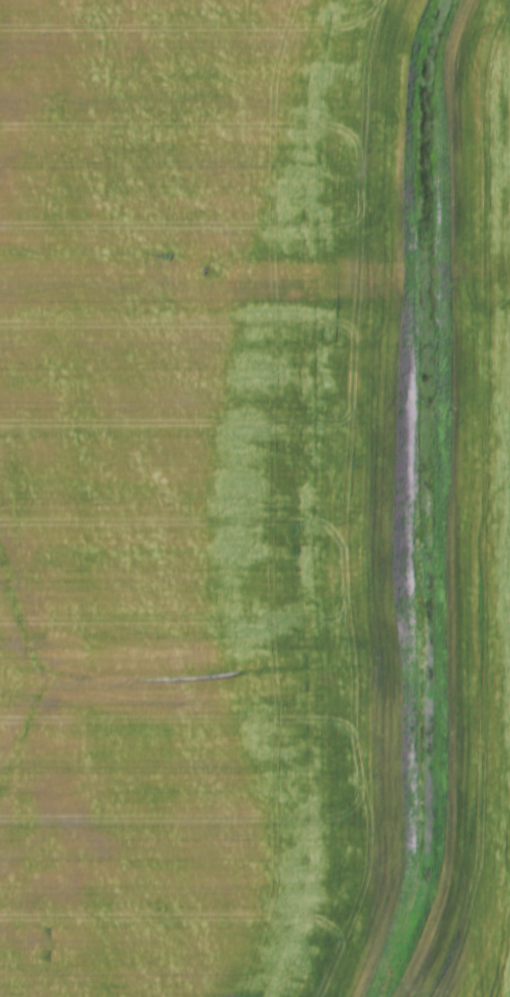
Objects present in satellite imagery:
crop: (206, 495)
crop: (472, 518)

